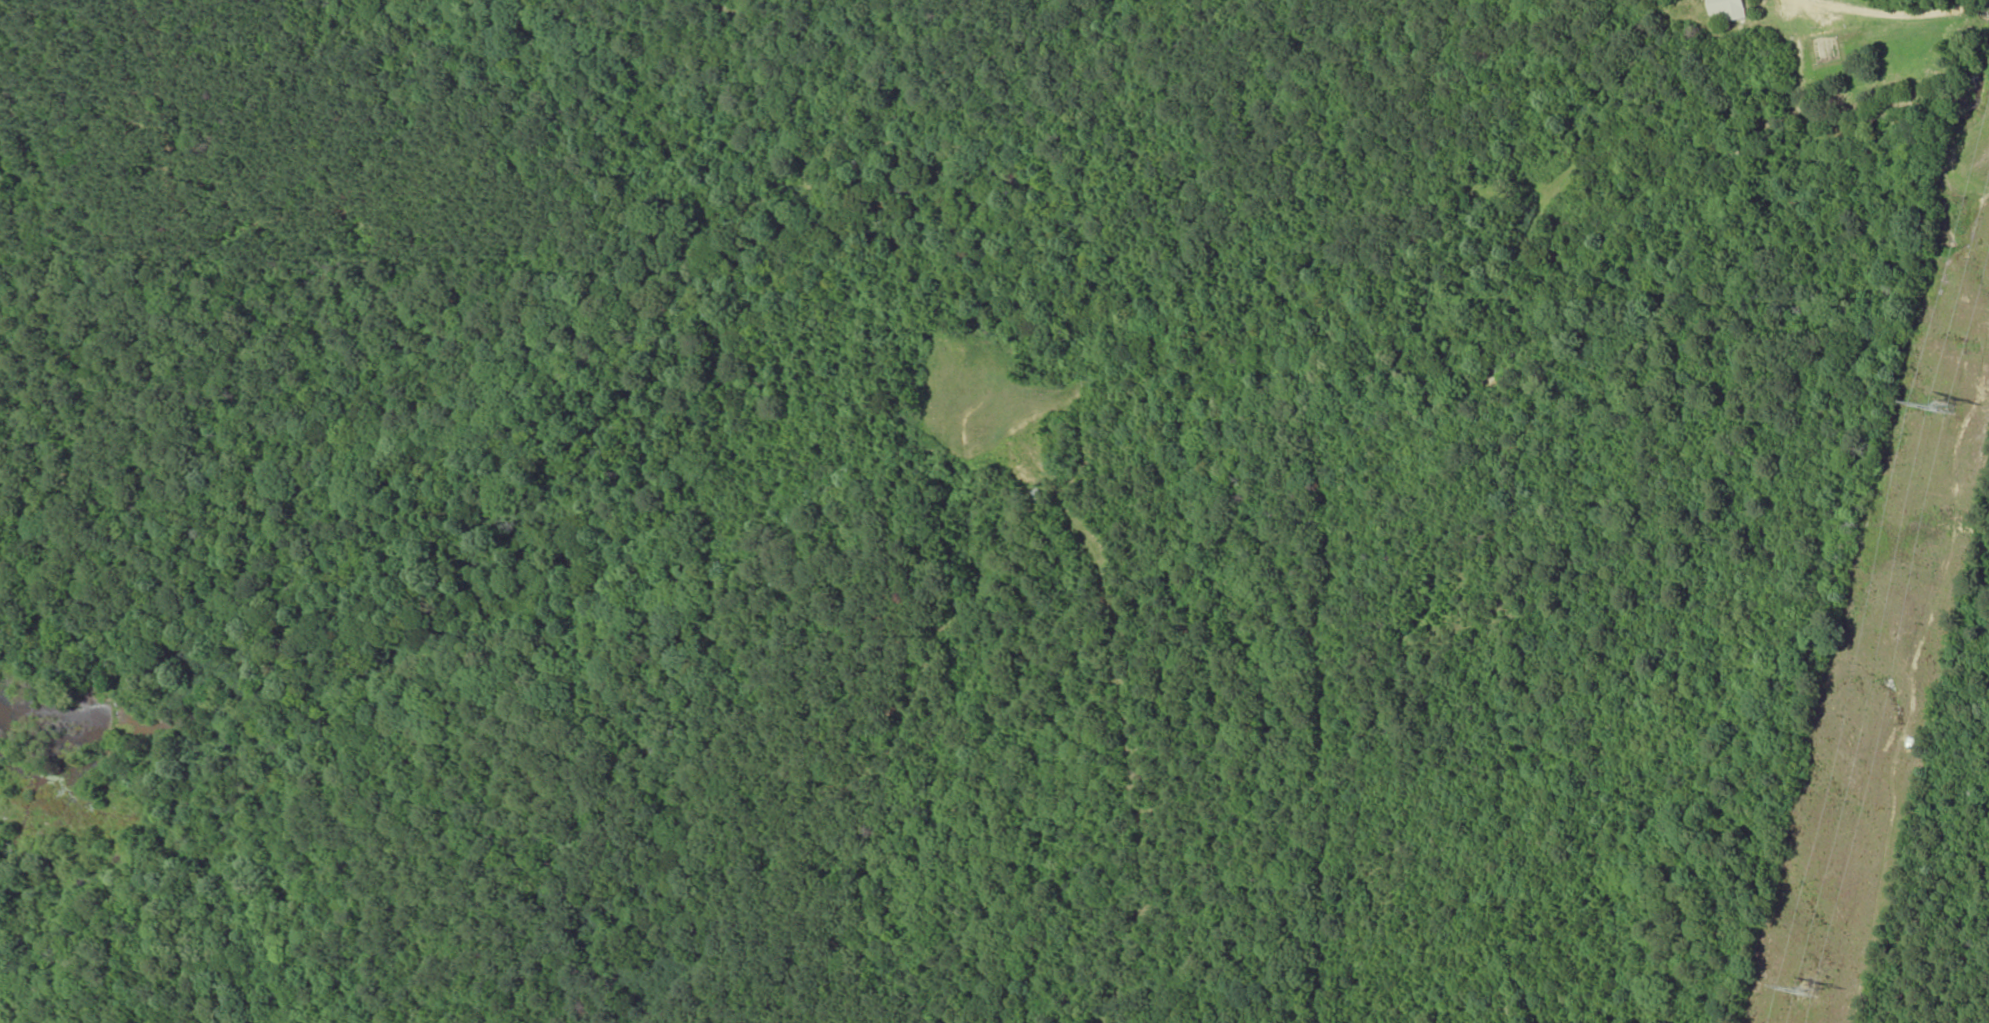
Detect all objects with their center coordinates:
building: (1729, 8)
power tower: (1952, 404)
power tower: (1828, 987)

